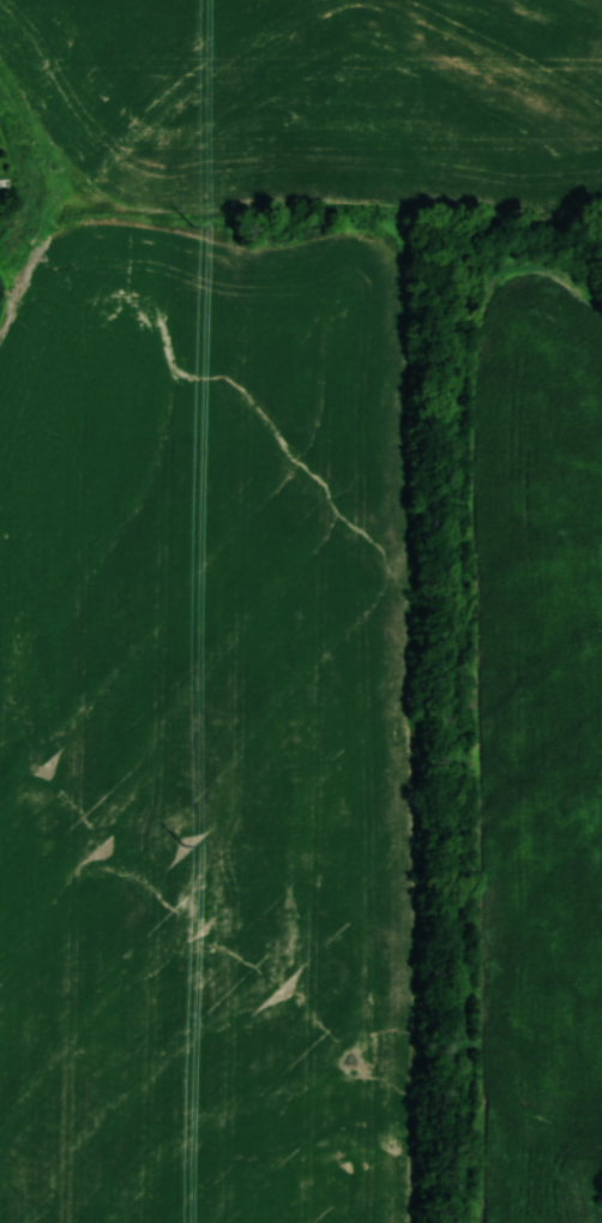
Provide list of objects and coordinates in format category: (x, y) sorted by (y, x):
power tower: (192, 222)
power tower: (182, 849)

